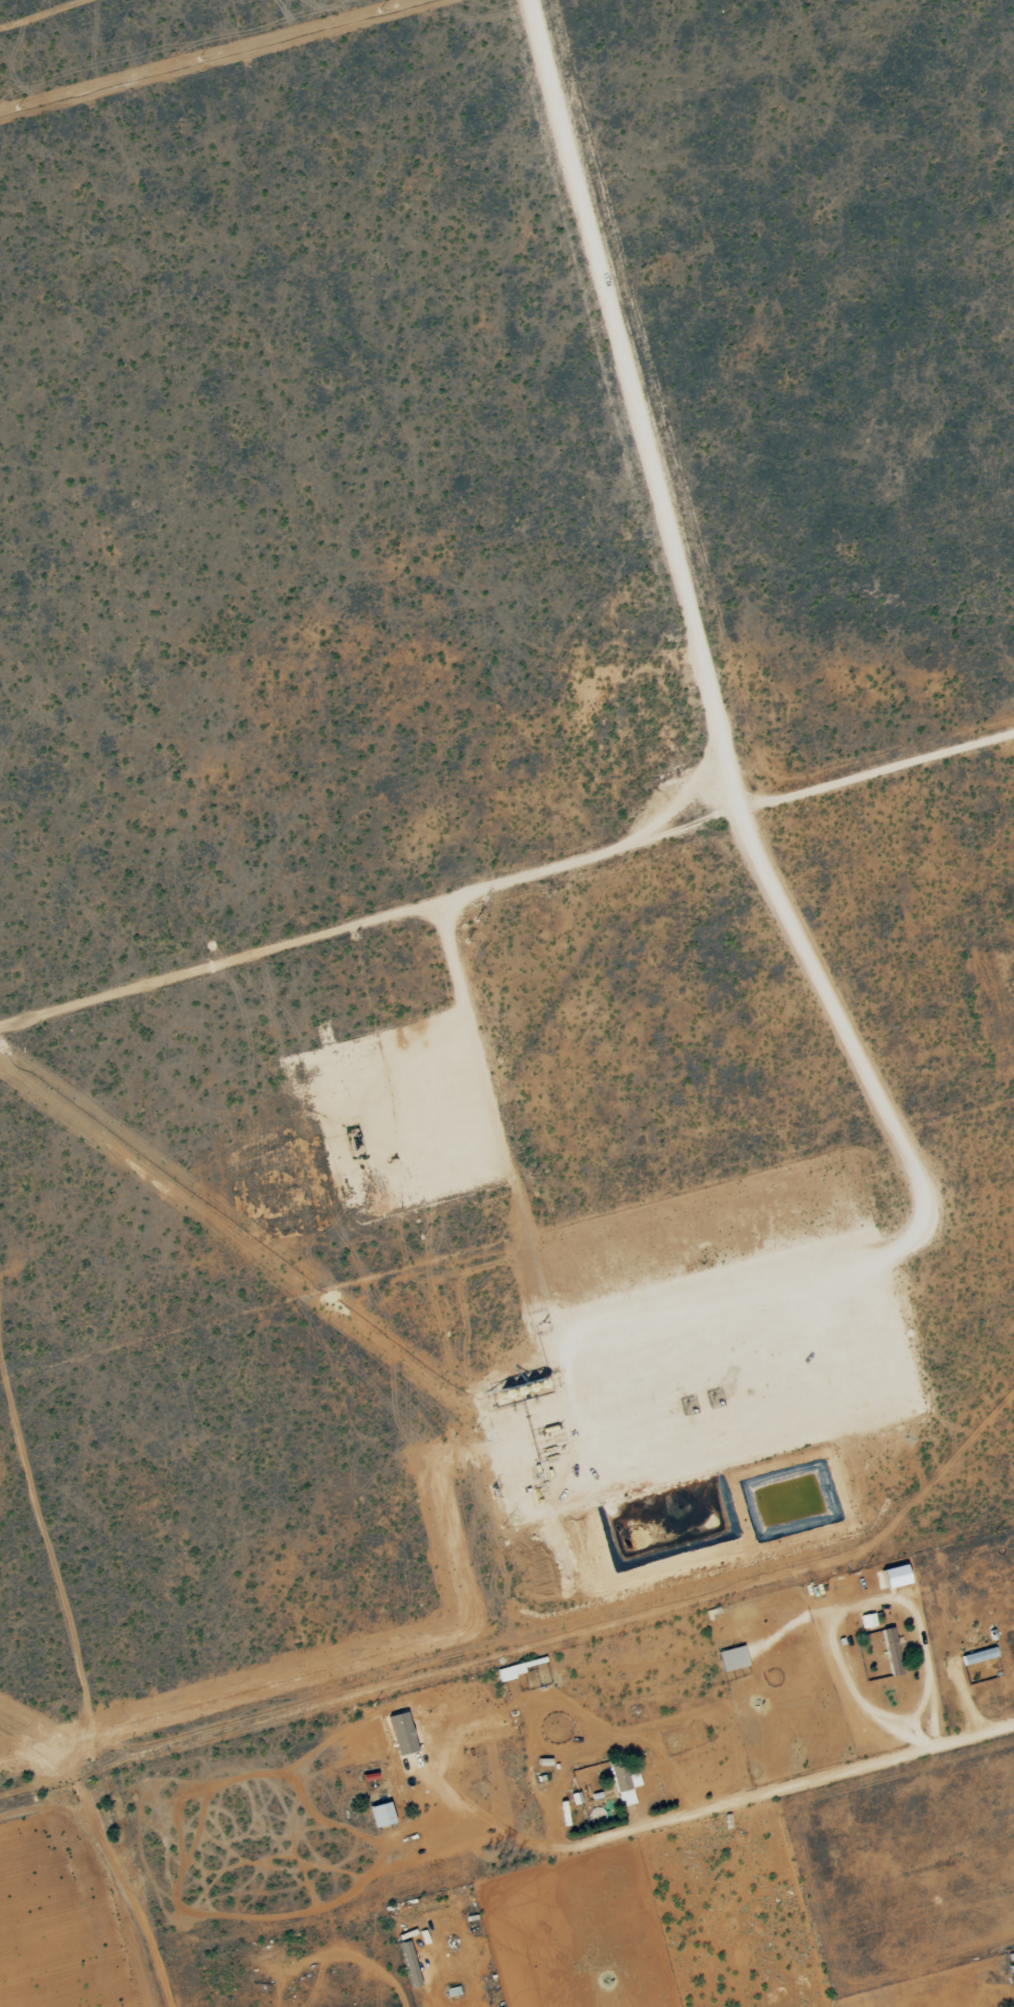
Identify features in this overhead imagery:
road: (265, 72)
road: (847, 1609)
building: (866, 1621)
building: (890, 1652)
building: (978, 1657)
building: (731, 1659)
building: (511, 1672)
road: (934, 1716)
building: (400, 1735)
building: (623, 1785)
road: (786, 1788)
building: (381, 1816)
road: (354, 1957)
building: (1012, 1976)
road: (431, 1978)

